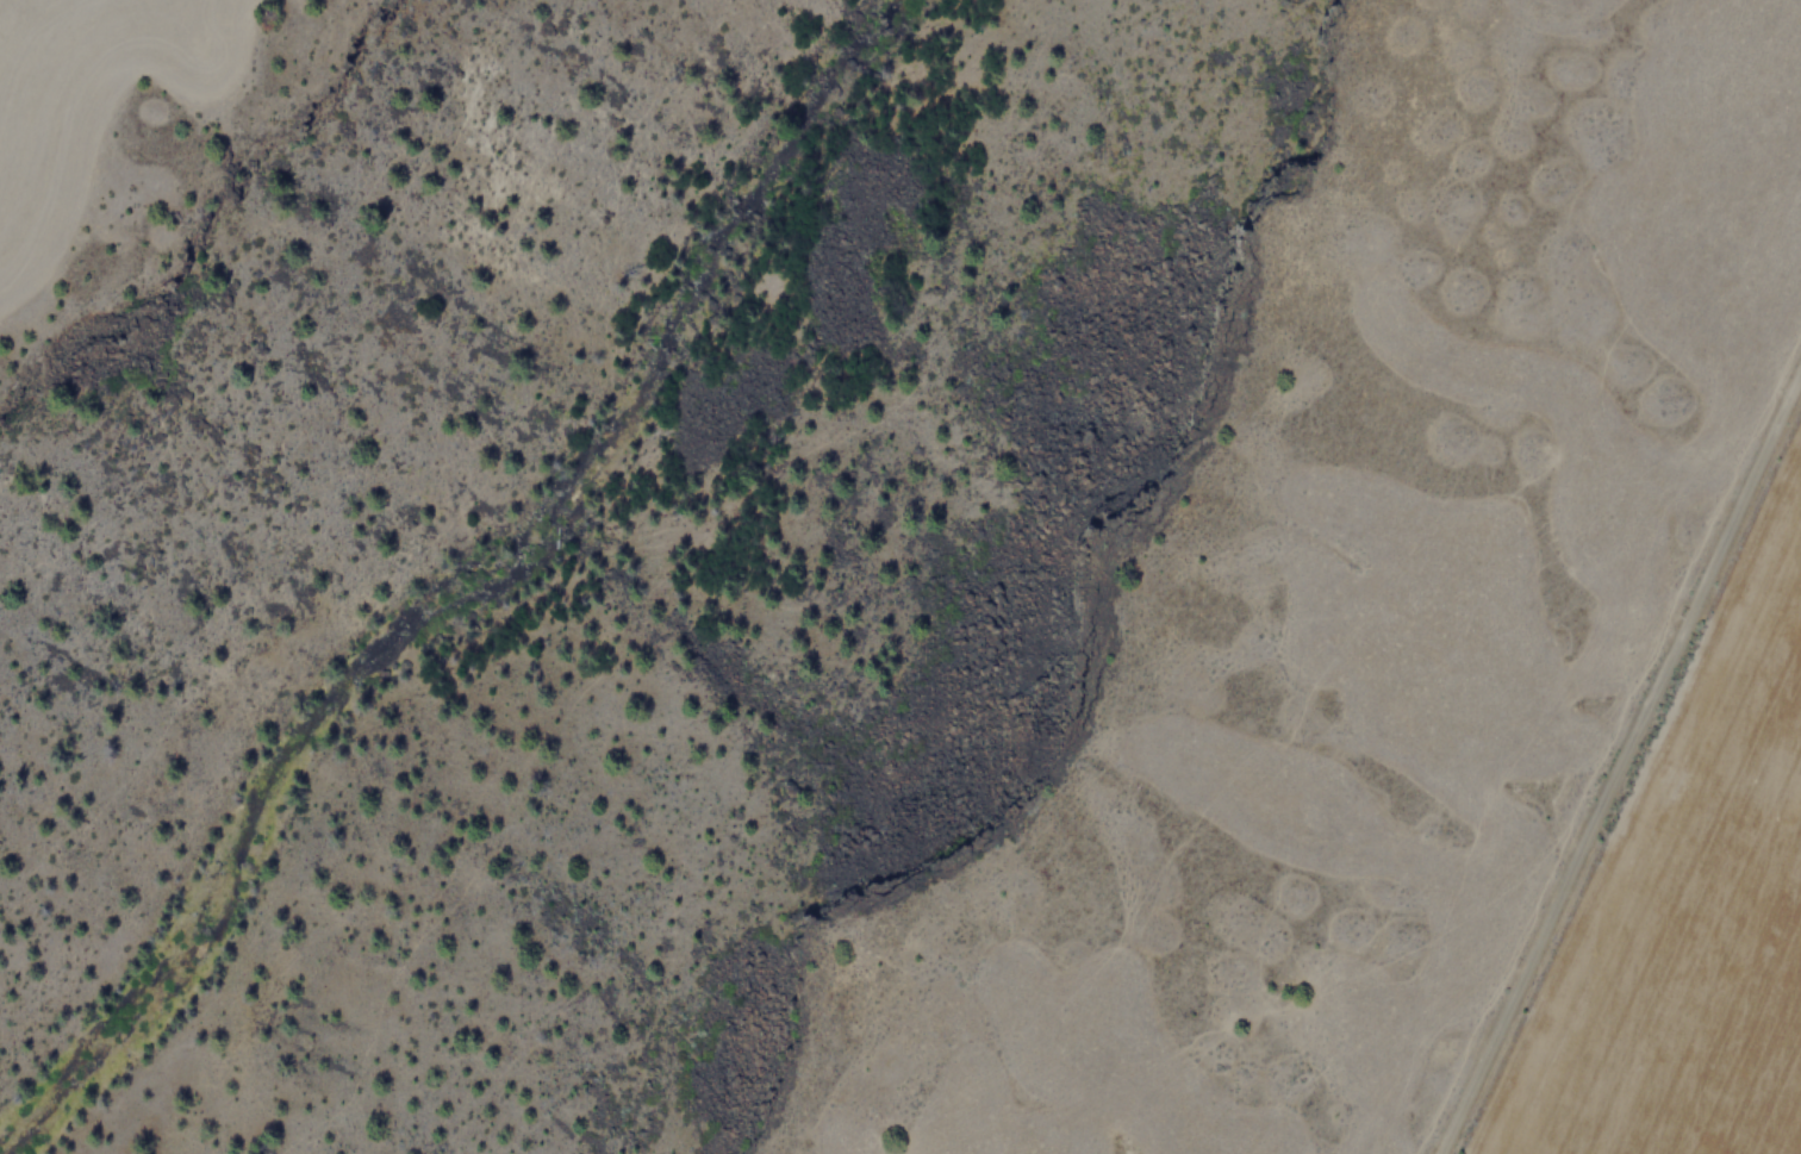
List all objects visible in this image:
road: (1621, 771)

